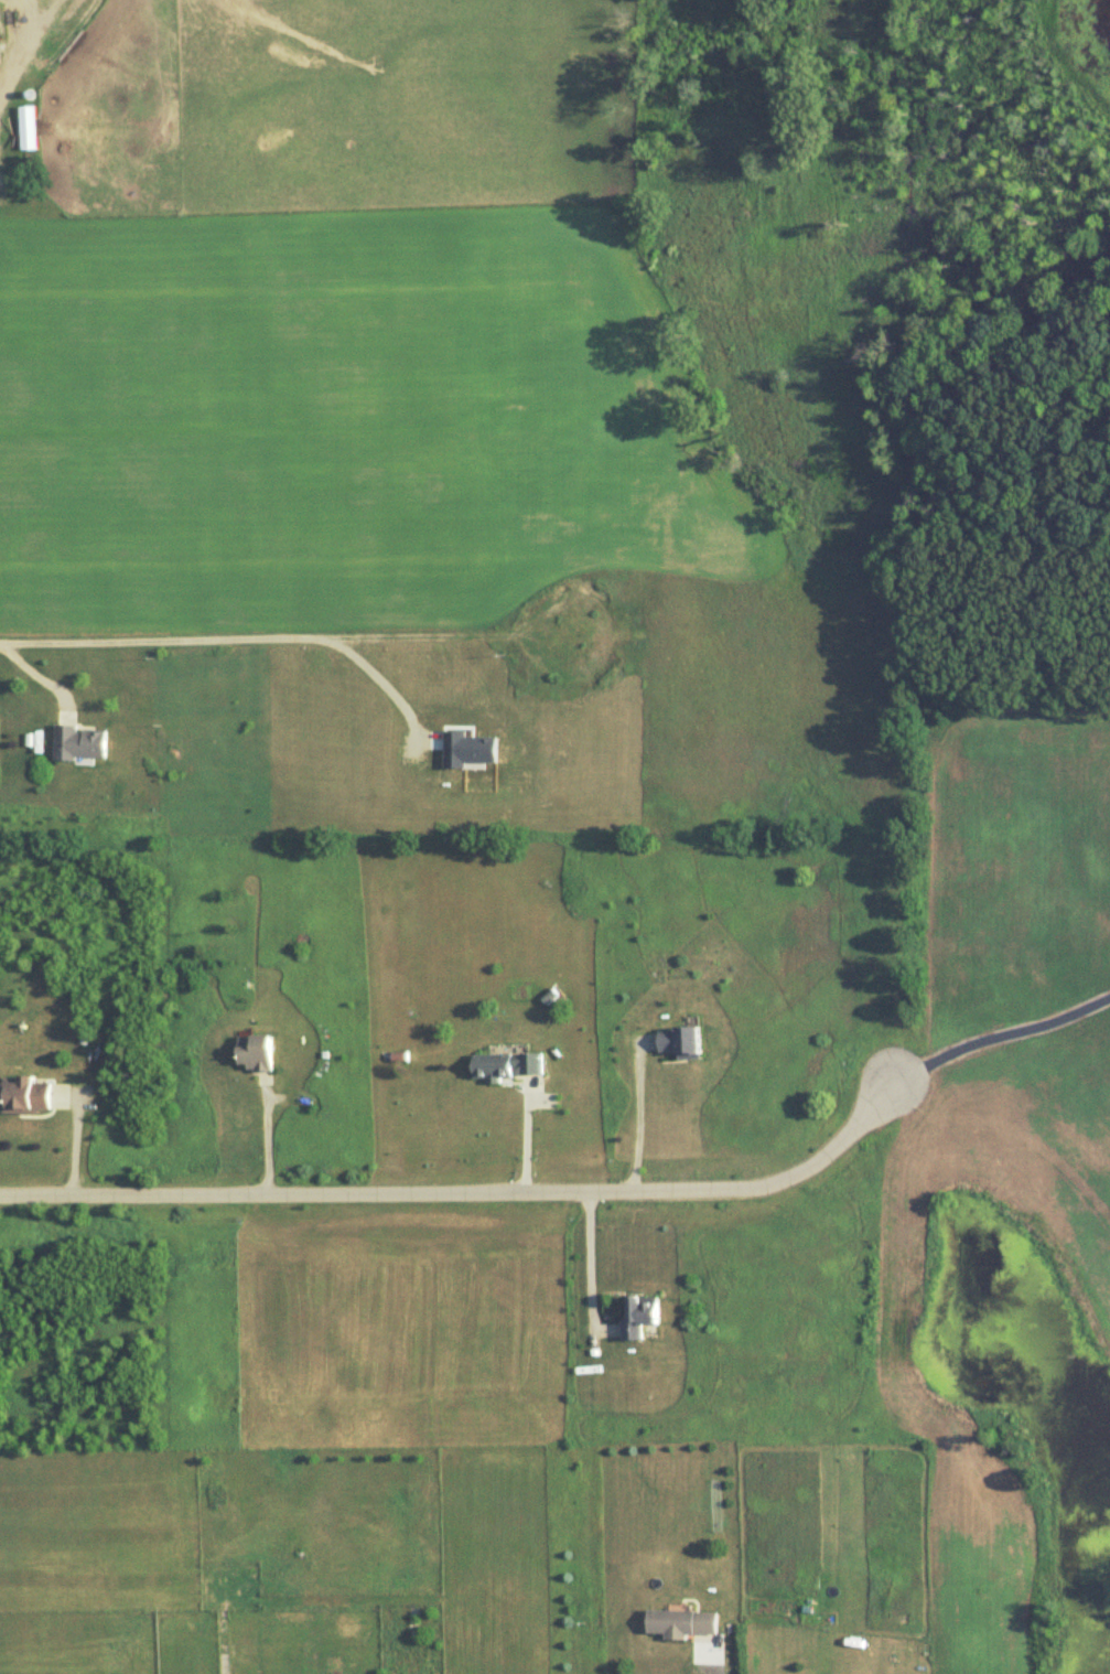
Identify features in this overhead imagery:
road: (23, 46)
road: (35, 675)
building: (78, 742)
road: (993, 1037)
building: (681, 1041)
building: (256, 1051)
building: (506, 1065)
building: (24, 1095)
road: (637, 1113)
road: (266, 1131)
road: (527, 1135)
road: (457, 1187)
road: (592, 1260)
building: (644, 1314)
building: (682, 1622)
road: (714, 1665)

